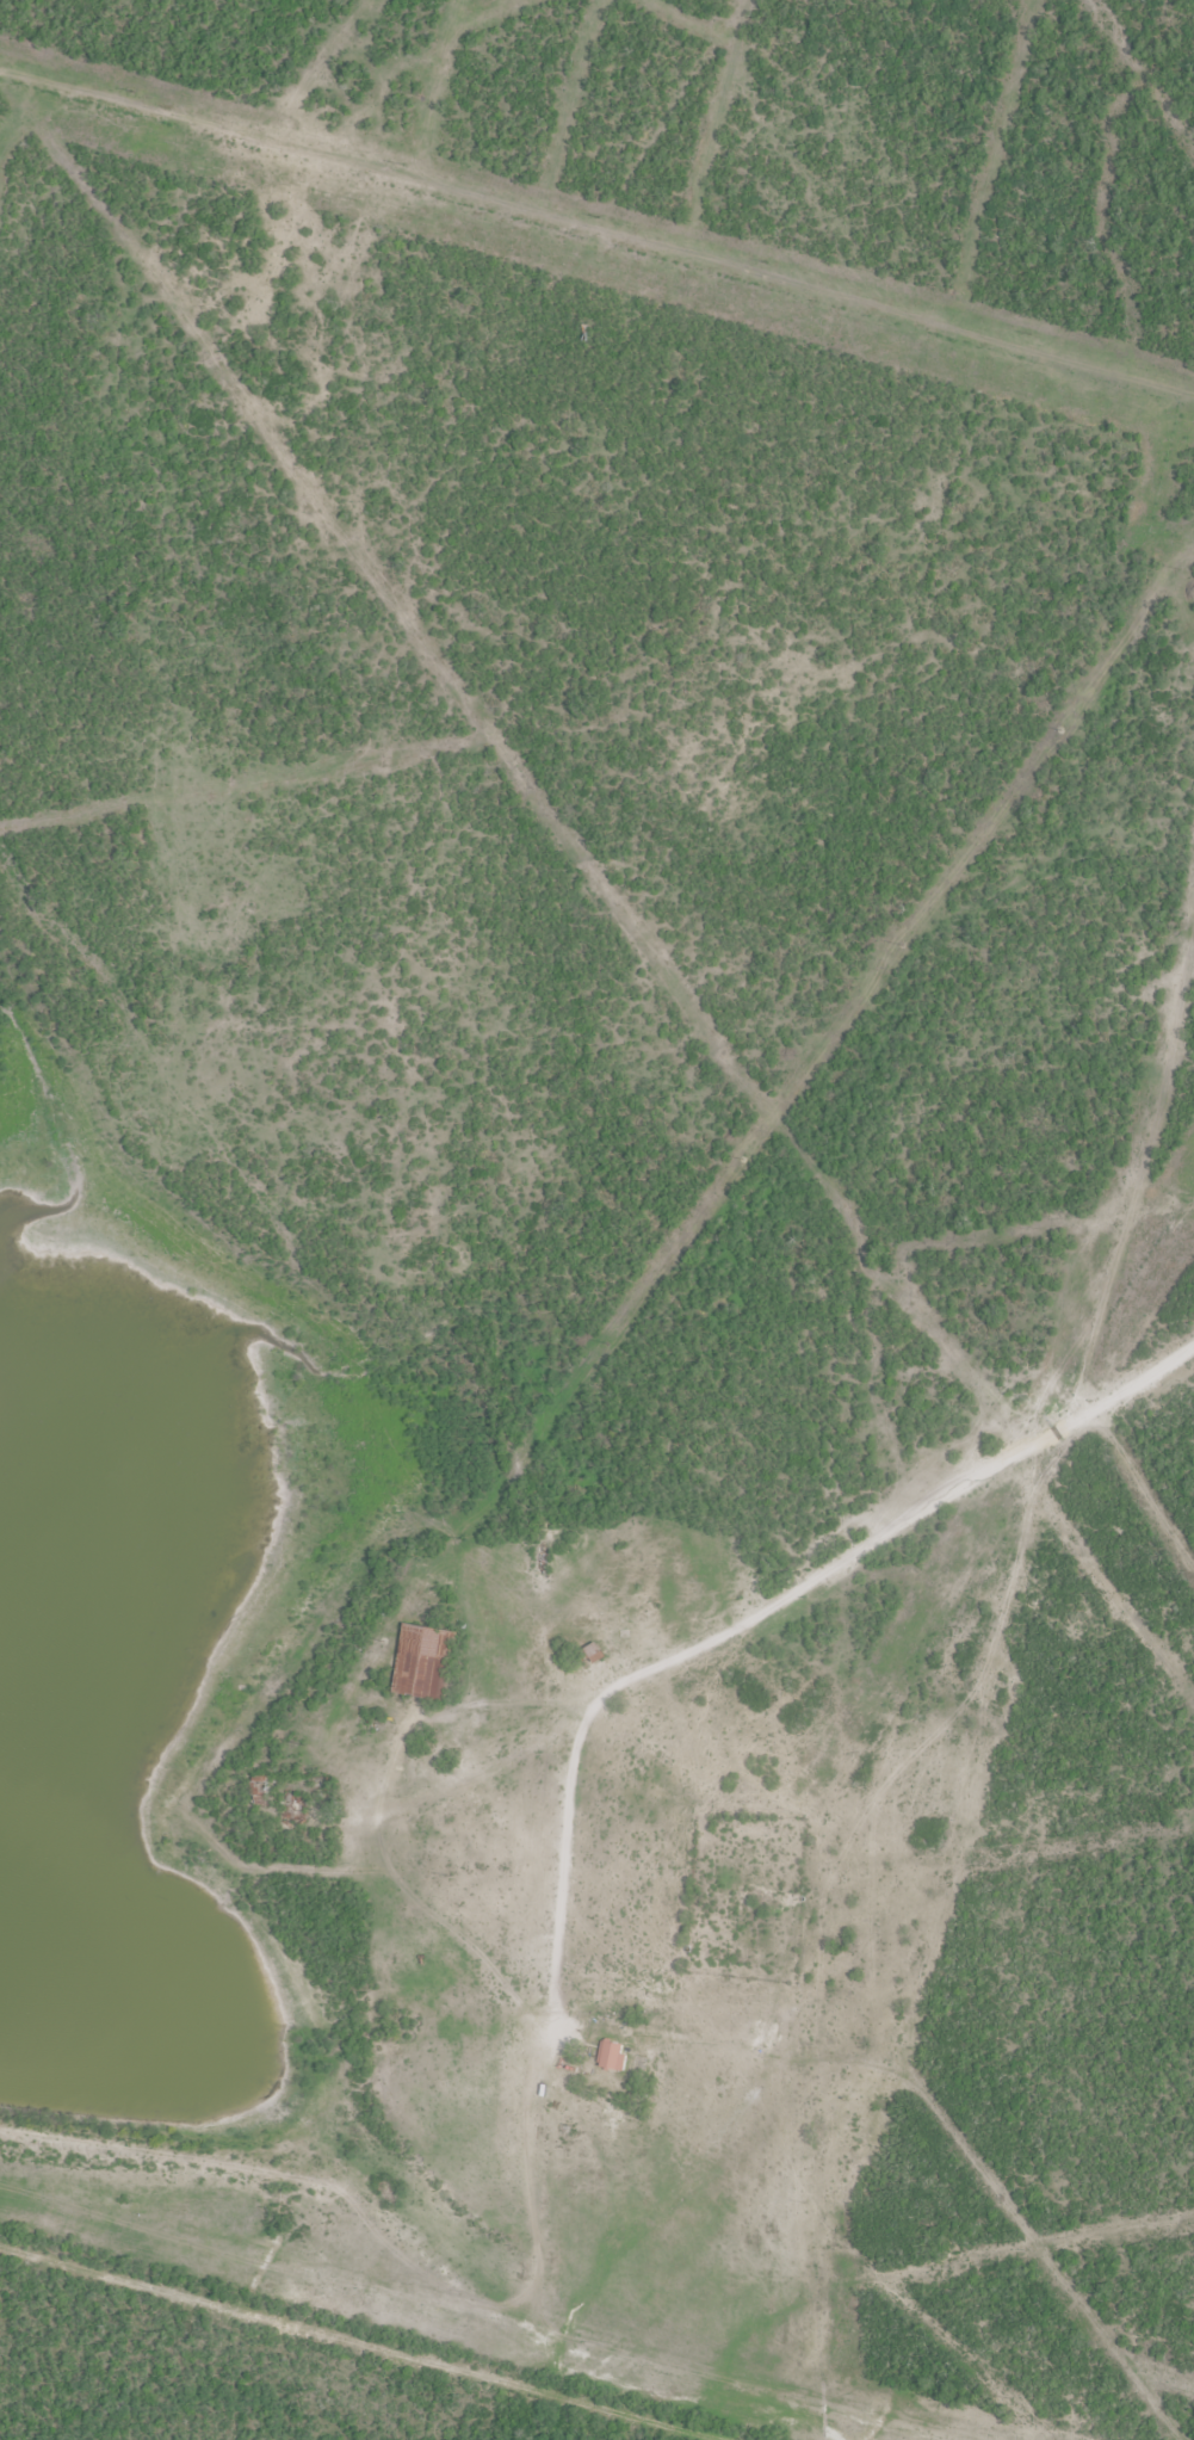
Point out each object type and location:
building: (425, 1660)
road: (574, 1805)
road: (462, 1926)
building: (612, 2052)
road: (285, 2188)

